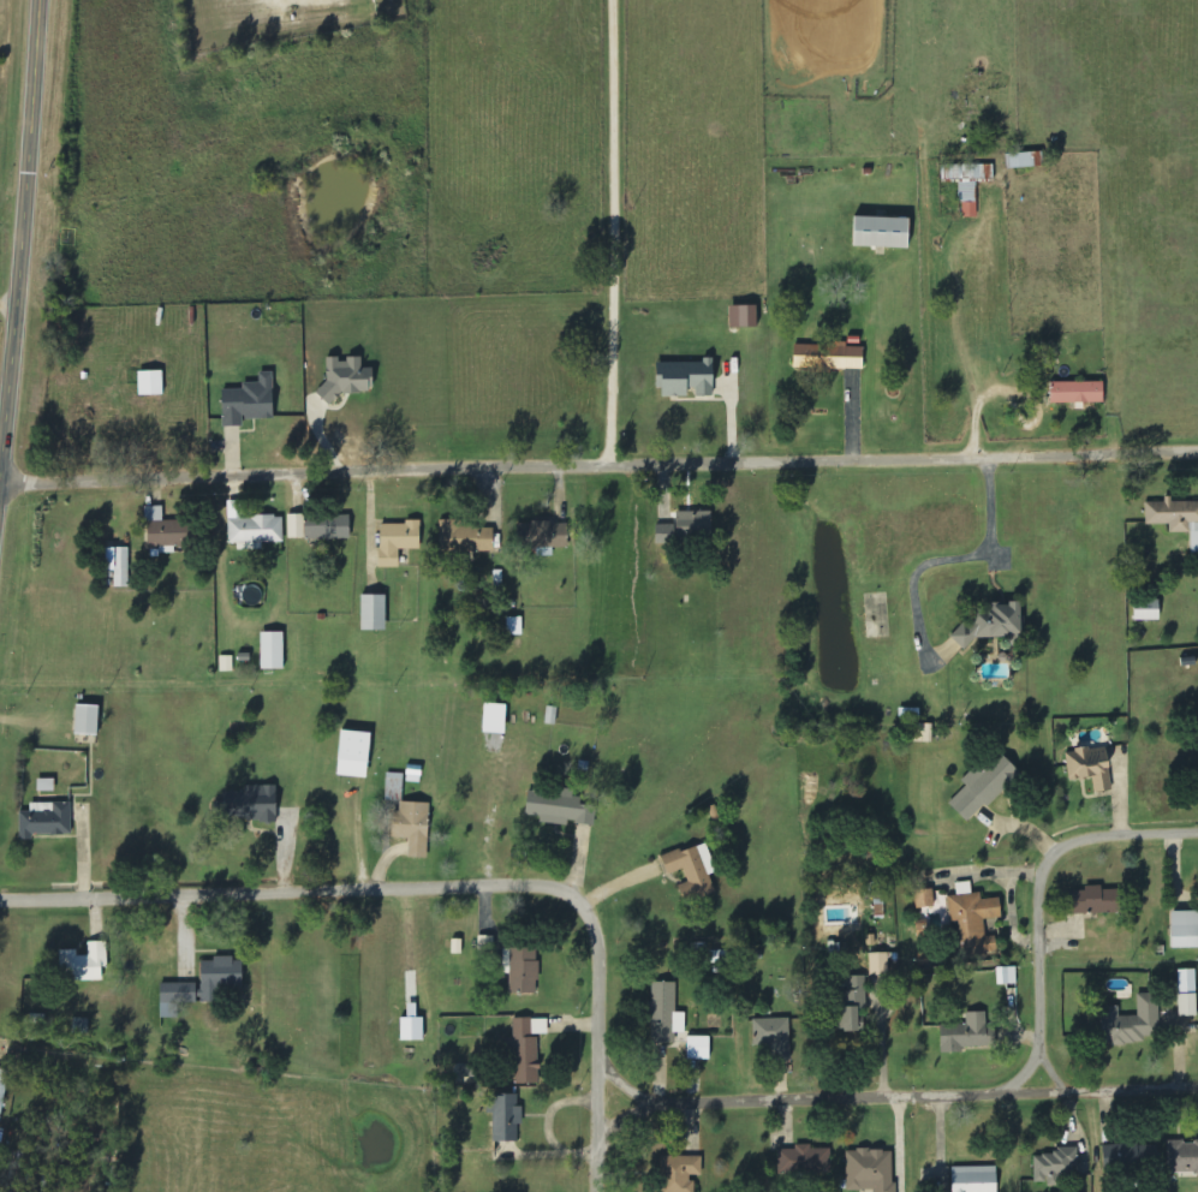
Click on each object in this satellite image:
building: (1024, 160)
building: (972, 187)
road: (18, 223)
road: (595, 225)
building: (880, 232)
building: (743, 317)
building: (828, 357)
building: (346, 377)
building: (685, 379)
building: (150, 383)
building: (1077, 393)
building: (248, 401)
road: (598, 449)
building: (1175, 518)
building: (693, 523)
building: (296, 526)
building: (327, 528)
building: (252, 529)
building: (163, 532)
building: (664, 535)
building: (543, 536)
building: (464, 538)
building: (397, 542)
building: (121, 568)
building: (1146, 612)
building: (372, 613)
building: (993, 624)
building: (514, 626)
building: (272, 651)
building: (227, 664)
building: (494, 719)
building: (87, 720)
building: (352, 755)
building: (1090, 768)
building: (46, 786)
building: (983, 787)
building: (249, 804)
building: (558, 809)
building: (46, 821)
building: (412, 828)
road: (1117, 835)
building: (692, 871)
road: (440, 886)
building: (924, 900)
building: (1093, 902)
building: (973, 922)
building: (1184, 930)
building: (84, 964)
building: (524, 972)
building: (878, 972)
road: (1037, 976)
building: (1007, 977)
building: (203, 987)
building: (1187, 994)
building: (851, 1002)
building: (664, 1014)
building: (1133, 1024)
building: (965, 1035)
building: (773, 1037)
building: (528, 1049)
building: (698, 1049)
building: (2, 1091)
road: (892, 1095)
building: (506, 1119)
building: (1182, 1158)
building: (804, 1162)
building: (1056, 1167)
building: (679, 1170)
building: (870, 1172)
building: (973, 1179)

